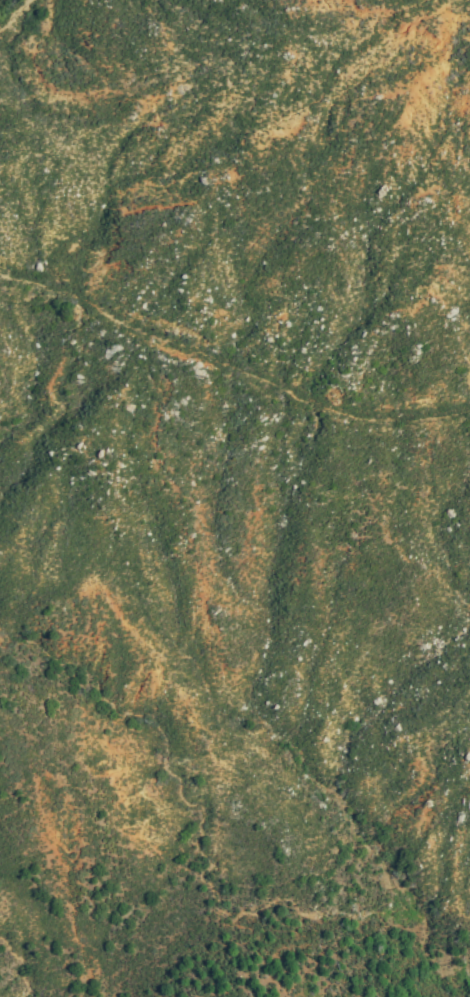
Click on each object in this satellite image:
road: (23, 20)

